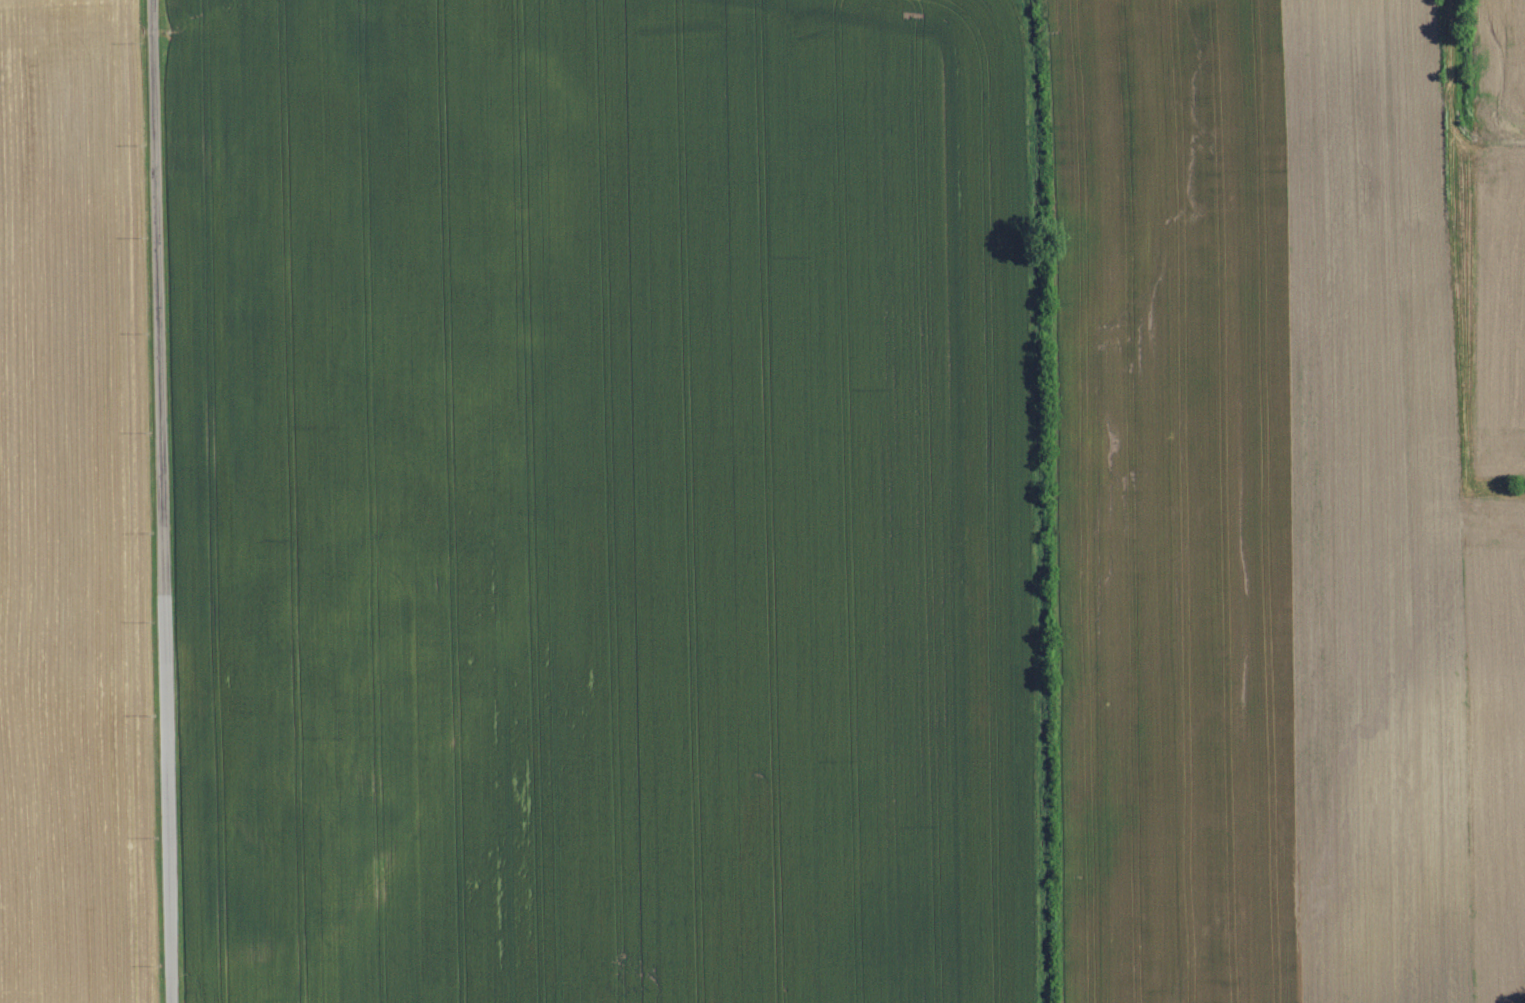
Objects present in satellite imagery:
road: (166, 501)

